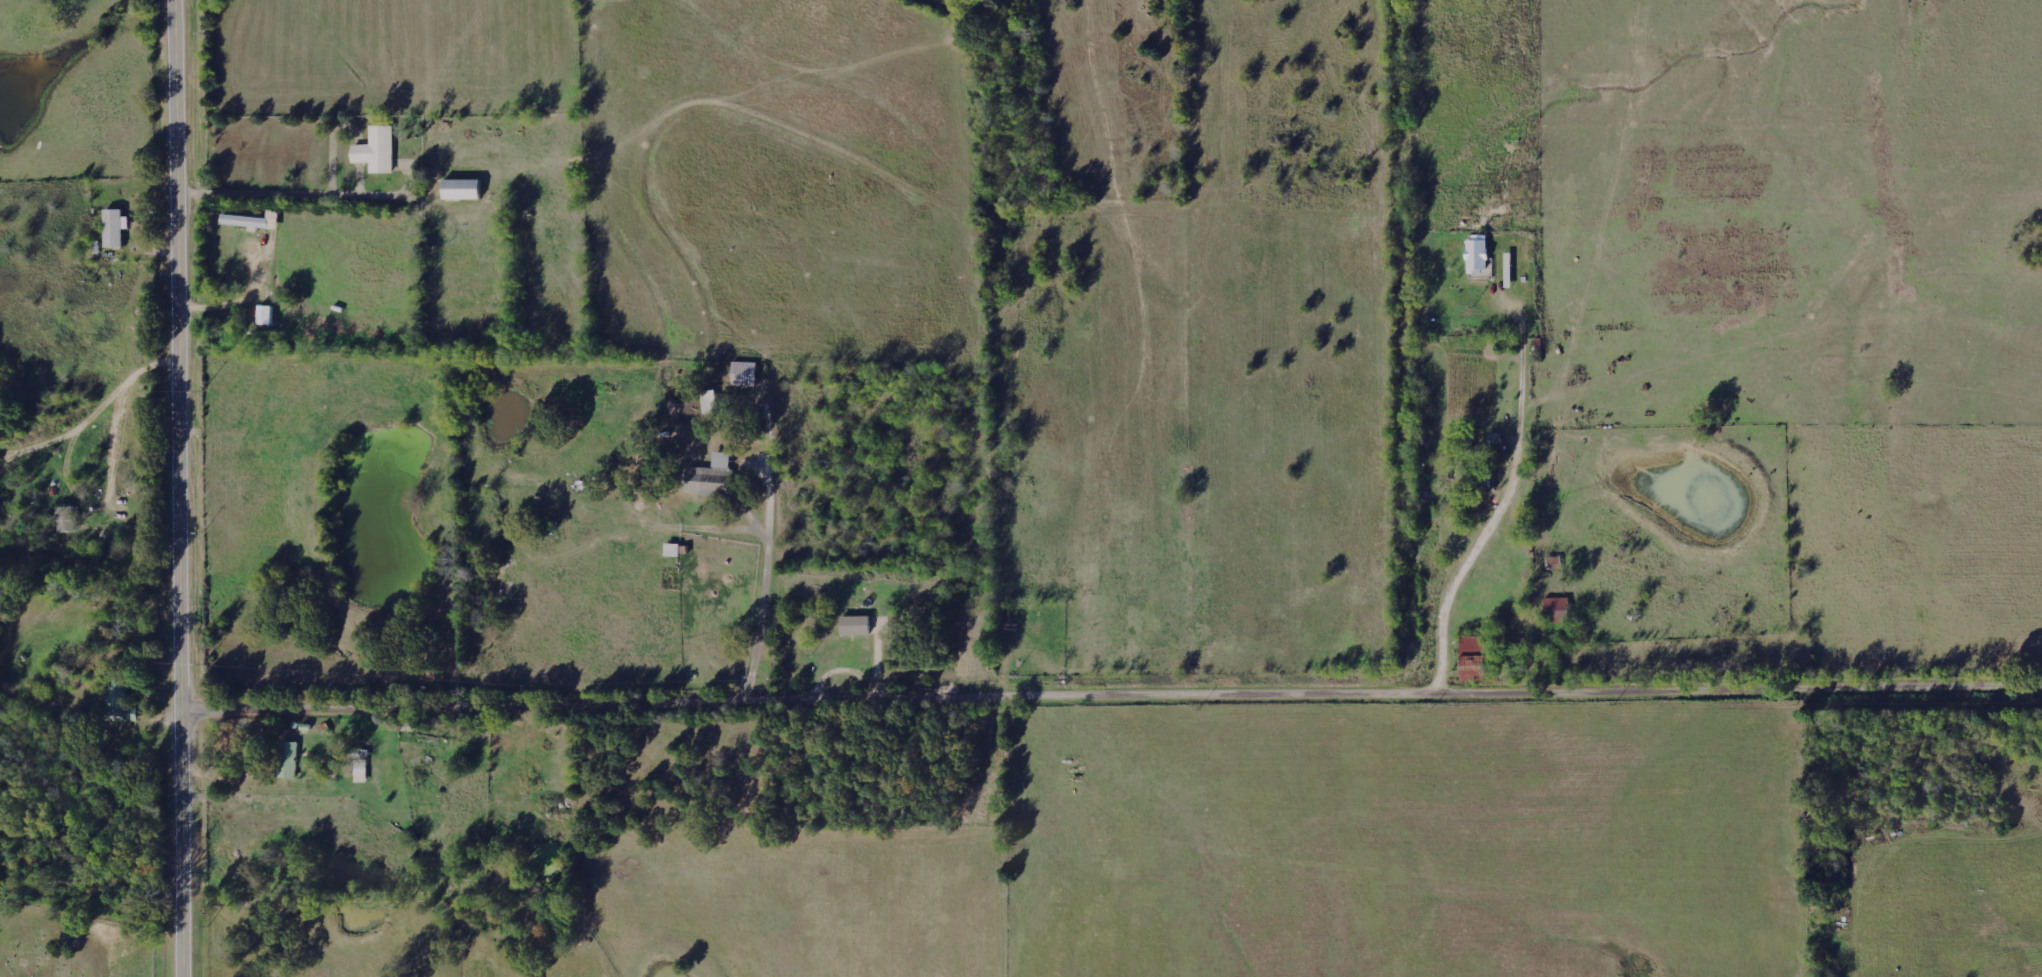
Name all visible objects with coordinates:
building: (379, 151)
building: (466, 190)
building: (254, 222)
building: (117, 228)
building: (1510, 271)
building: (268, 316)
road: (1397, 348)
road: (97, 412)
building: (713, 478)
road: (182, 488)
building: (68, 519)
building: (1558, 610)
building: (858, 625)
road: (1431, 696)
road: (795, 703)
building: (120, 704)
building: (290, 760)
building: (363, 771)

